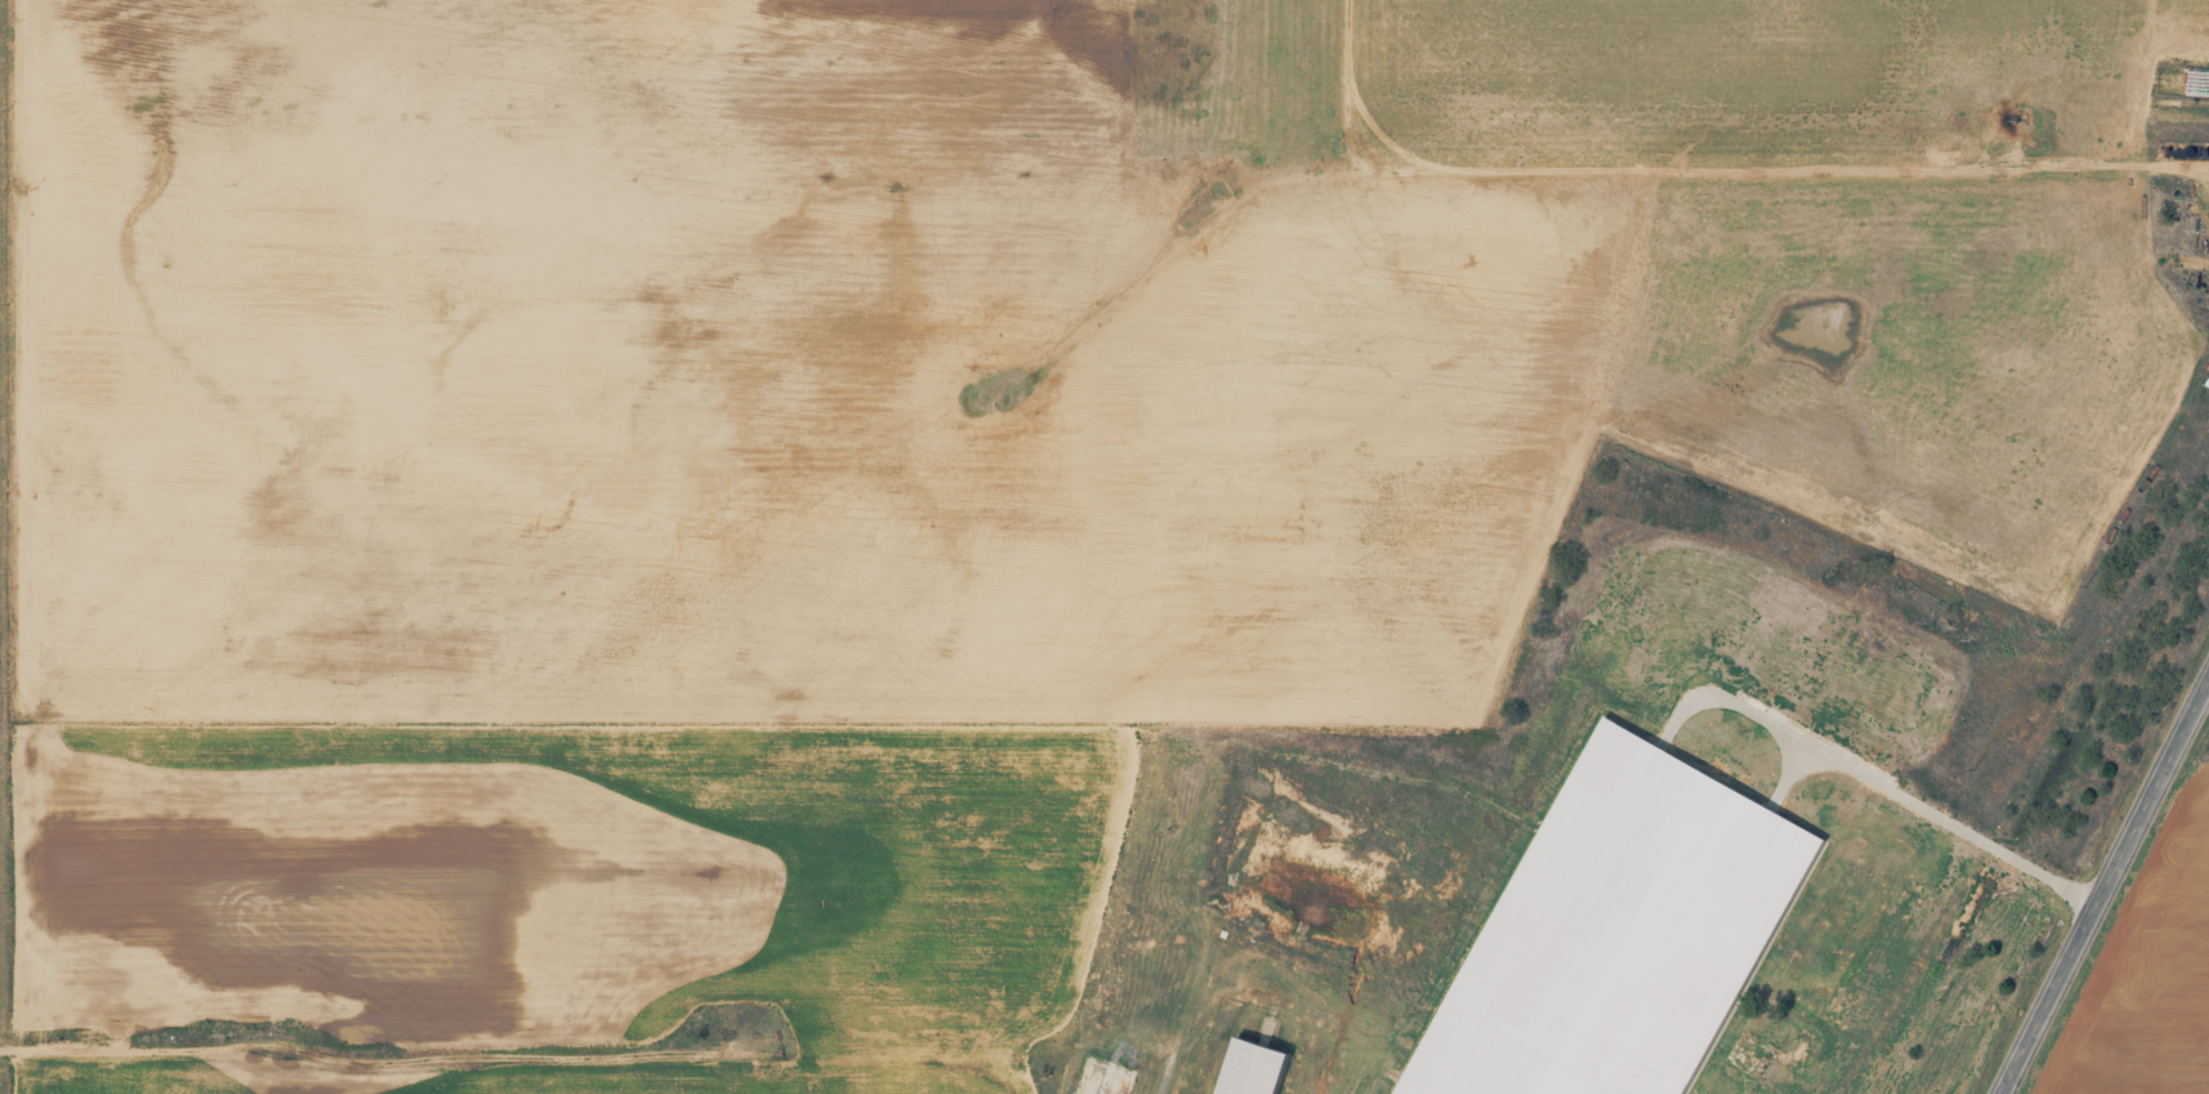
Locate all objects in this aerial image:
road: (1713, 154)
road: (2110, 897)
building: (1618, 930)
building: (1250, 1066)

